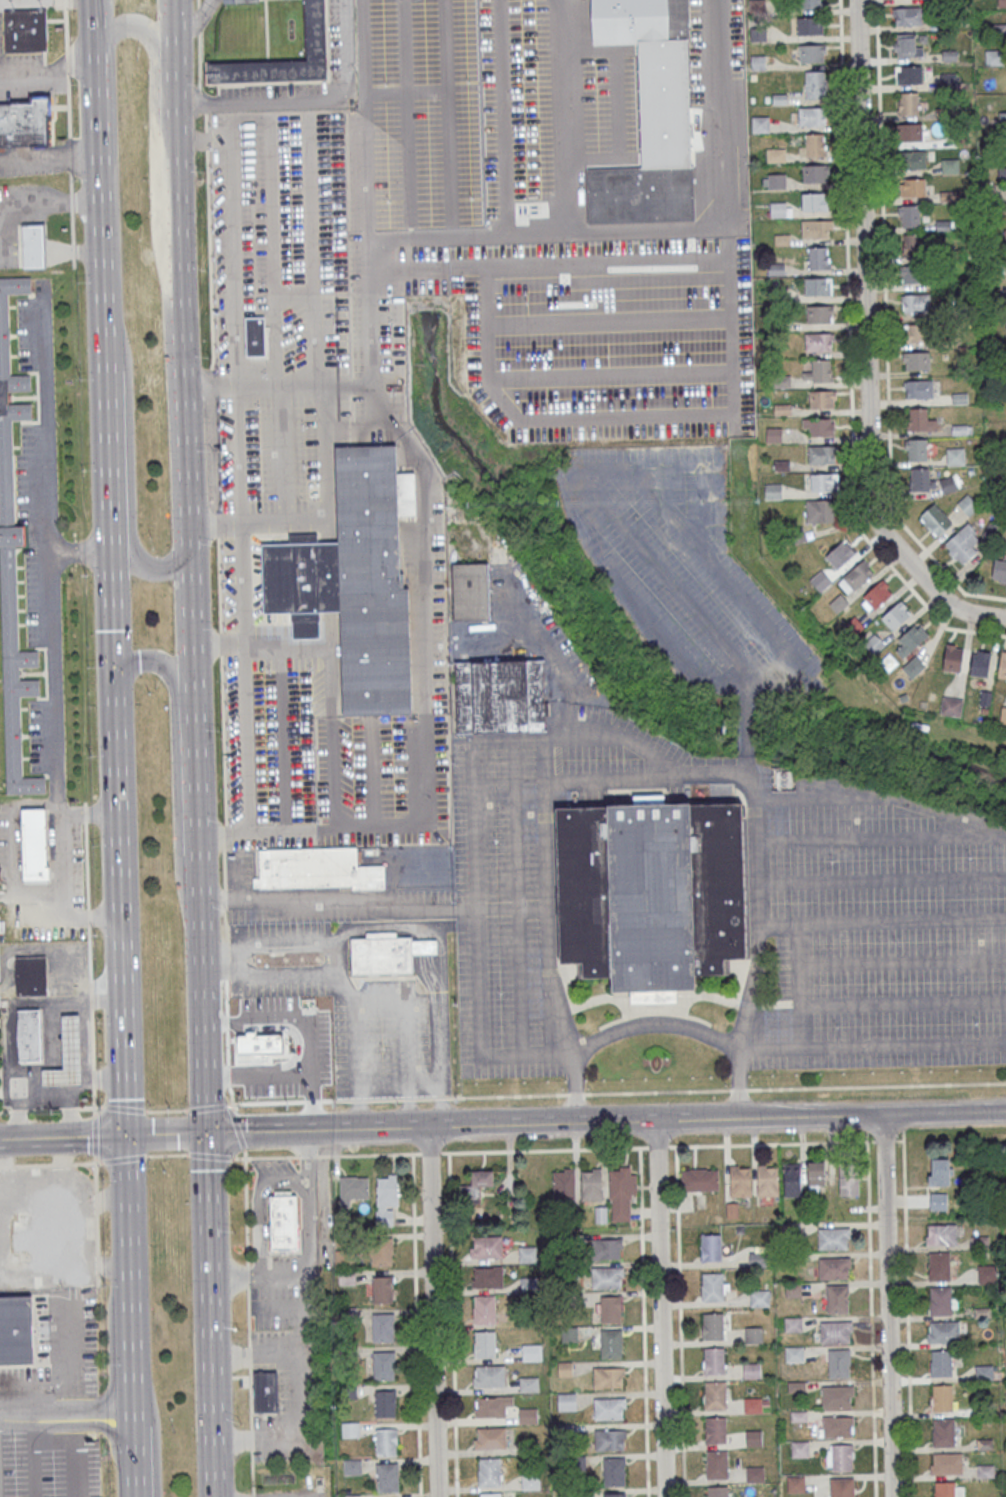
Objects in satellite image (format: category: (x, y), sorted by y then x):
building: (235, 0)
power substation: (23, 2)
road: (198, 3)
building: (1001, 3)
road: (64, 4)
building: (811, 4)
building: (908, 15)
road: (55, 18)
road: (197, 18)
road: (199, 18)
building: (809, 25)
road: (65, 27)
building: (316, 28)
building: (25, 29)
building: (906, 46)
building: (812, 53)
building: (993, 57)
road: (200, 58)
street lamp: (137, 59)
parking lot: (18, 60)
road: (66, 60)
road: (50, 71)
building: (909, 74)
street lamp: (73, 80)
building: (947, 81)
street lamp: (204, 82)
parking lot: (20, 84)
building: (814, 84)
building: (466, 95)
road: (307, 96)
road: (203, 99)
building: (907, 103)
road: (68, 105)
building: (651, 113)
building: (811, 115)
road: (503, 118)
building: (25, 119)
building: (1002, 119)
road: (154, 131)
building: (909, 132)
road: (205, 141)
street lamp: (287, 144)
street lamp: (251, 145)
building: (813, 145)
road: (50, 151)
road: (69, 154)
building: (775, 155)
building: (912, 159)
parking lot: (30, 162)
street lamp: (213, 166)
building: (949, 166)
street lamp: (206, 169)
building: (815, 173)
building: (1001, 174)
street lamp: (74, 177)
road: (70, 181)
building: (774, 181)
street lamp: (214, 186)
street lamp: (253, 186)
building: (912, 187)
building: (473, 190)
building: (949, 196)
road: (71, 199)
road: (50, 201)
building: (814, 201)
building: (1004, 206)
street lamp: (214, 207)
building: (909, 215)
building: (943, 224)
road: (72, 225)
building: (814, 228)
street lamp: (215, 229)
road: (636, 232)
building: (1004, 233)
road: (483, 236)
road: (384, 238)
road: (209, 240)
road: (11, 241)
road: (33, 241)
building: (33, 243)
road: (58, 245)
building: (913, 245)
road: (58, 249)
road: (73, 249)
road: (87, 249)
road: (11, 250)
road: (33, 250)
road: (370, 250)
road: (58, 253)
street lamp: (215, 256)
road: (3, 257)
road: (34, 257)
building: (818, 258)
road: (74, 261)
building: (914, 274)
street lamp: (216, 277)
street lamp: (79, 279)
building: (818, 286)
building: (1003, 296)
street lamp: (216, 298)
building: (915, 303)
road: (317, 314)
building: (819, 314)
road: (278, 316)
road: (239, 317)
street lamp: (217, 322)
building: (1005, 322)
road: (885, 331)
building: (916, 333)
building: (256, 334)
road: (104, 338)
building: (818, 341)
road: (866, 345)
street lamp: (217, 347)
road: (181, 348)
building: (1005, 350)
street lamp: (210, 355)
building: (916, 360)
road: (850, 361)
street lamp: (218, 368)
building: (819, 371)
street lamp: (267, 374)
street lamp: (80, 376)
road: (211, 379)
building: (918, 388)
road: (347, 389)
road: (251, 391)
building: (959, 398)
building: (821, 399)
street lamp: (260, 407)
street lamp: (218, 408)
building: (919, 420)
street lamp: (306, 425)
building: (821, 426)
street lamp: (219, 427)
building: (959, 429)
street lamp: (261, 446)
building: (915, 449)
building: (821, 454)
building: (955, 456)
street lamp: (306, 465)
street lamp: (221, 468)
road: (127, 480)
building: (823, 482)
road: (640, 484)
street lamp: (222, 486)
street lamp: (262, 486)
parking lot: (323, 491)
building: (773, 491)
street lamp: (223, 507)
building: (821, 511)
road: (285, 519)
building: (935, 520)
road: (216, 522)
street lamp: (152, 536)
street lamp: (215, 544)
building: (962, 544)
road: (80, 550)
building: (840, 554)
building: (13, 555)
parking lot: (681, 569)
building: (999, 571)
building: (858, 575)
building: (355, 579)
building: (820, 581)
building: (471, 591)
building: (876, 594)
building: (895, 615)
street lamp: (217, 627)
road: (53, 629)
building: (910, 639)
road: (220, 641)
building: (873, 644)
building: (952, 657)
road: (159, 662)
building: (980, 663)
building: (1002, 665)
road: (553, 666)
building: (913, 667)
road: (247, 674)
traffic signals: (116, 676)
road: (333, 694)
building: (499, 696)
building: (951, 703)
street lamp: (220, 731)
road: (629, 744)
street lamp: (90, 755)
road: (420, 763)
road: (372, 773)
road: (197, 774)
road: (872, 795)
road: (89, 811)
parking lot: (532, 830)
road: (224, 831)
road: (881, 835)
building: (36, 845)
building: (316, 869)
building: (651, 894)
road: (120, 906)
road: (337, 906)
road: (475, 906)
road: (394, 930)
parking lot: (883, 931)
building: (386, 952)
road: (340, 959)
road: (241, 961)
building: (31, 975)
road: (344, 984)
road: (201, 992)
road: (402, 1024)
road: (654, 1024)
building: (305, 1025)
building: (30, 1038)
road: (874, 1047)
building: (68, 1058)
road: (404, 1085)
road: (442, 1087)
road: (876, 1087)
road: (738, 1091)
road: (657, 1093)
road: (575, 1095)
road: (506, 1097)
road: (407, 1100)
road: (425, 1100)
road: (440, 1100)
road: (320, 1101)
road: (342, 1101)
road: (383, 1101)
road: (359, 1102)
road: (268, 1103)
road: (93, 1107)
road: (207, 1108)
road: (830, 1116)
road: (542, 1123)
road: (237, 1127)
road: (377, 1129)
road: (265, 1131)
traffic signals: (206, 1134)
road: (166, 1135)
traffic signals: (127, 1136)
road: (63, 1138)
road: (792, 1142)
road: (477, 1151)
road: (309, 1153)
road: (308, 1157)
road: (273, 1158)
building: (940, 1172)
building: (815, 1174)
building: (699, 1179)
building: (740, 1181)
building: (767, 1181)
building: (792, 1183)
building: (848, 1183)
building: (563, 1184)
building: (591, 1184)
building: (476, 1186)
building: (353, 1189)
building: (621, 1192)
road: (326, 1198)
building: (386, 1198)
building: (938, 1201)
road: (260, 1204)
building: (601, 1214)
building: (284, 1225)
building: (941, 1234)
building: (833, 1237)
building: (711, 1247)
road: (247, 1248)
road: (308, 1248)
building: (485, 1248)
building: (607, 1249)
building: (381, 1252)
building: (759, 1255)
building: (344, 1257)
building: (939, 1265)
building: (835, 1268)
road: (130, 1271)
building: (987, 1273)
road: (235, 1276)
building: (346, 1277)
building: (486, 1278)
building: (607, 1278)
parking lot: (280, 1281)
building: (712, 1287)
building: (792, 1289)
building: (382, 1290)
building: (759, 1298)
building: (837, 1299)
building: (940, 1300)
road: (643, 1303)
road: (296, 1306)
road: (887, 1306)
road: (660, 1308)
building: (610, 1309)
building: (484, 1310)
road: (434, 1312)
road: (209, 1315)
parking lot: (274, 1318)
road: (453, 1324)
building: (792, 1324)
building: (712, 1326)
building: (382, 1328)
building: (15, 1329)
building: (835, 1331)
building: (943, 1332)
building: (753, 1335)
road: (871, 1336)
building: (484, 1343)
building: (610, 1343)
building: (532, 1352)
building: (794, 1354)
road: (250, 1357)
building: (713, 1360)
building: (838, 1362)
building: (941, 1363)
building: (383, 1365)
building: (565, 1369)
building: (751, 1370)
building: (984, 1373)
building: (488, 1375)
building: (607, 1377)
building: (529, 1384)
building: (795, 1386)
building: (265, 1394)
building: (714, 1395)
building: (836, 1395)
road: (296, 1397)
road: (251, 1398)
building: (942, 1398)
parking lot: (308, 1399)
building: (566, 1401)
building: (765, 1401)
building: (751, 1404)
building: (385, 1405)
building: (491, 1406)
building: (608, 1408)
road: (66, 1411)
building: (527, 1415)
building: (798, 1415)
road: (72, 1424)
building: (836, 1426)
building: (350, 1429)
building: (715, 1429)
building: (943, 1432)
building: (489, 1438)
building: (609, 1439)
road: (53, 1440)
road: (252, 1440)
street lamp: (14, 1441)
building: (385, 1442)
building: (799, 1448)
road: (133, 1452)
parking lot: (48, 1454)
building: (839, 1456)
road: (34, 1460)
building: (946, 1463)
building: (716, 1465)
building: (352, 1467)
road: (73, 1469)
building: (613, 1471)
building: (488, 1472)
road: (252, 1474)
building: (387, 1477)
building: (530, 1481)
building: (795, 1484)
building: (841, 1487)
building: (944, 1489)
building: (717, 1491)
building: (489, 1494)
building: (351, 1495)
building: (614, 1495)
road: (253, 1496)

